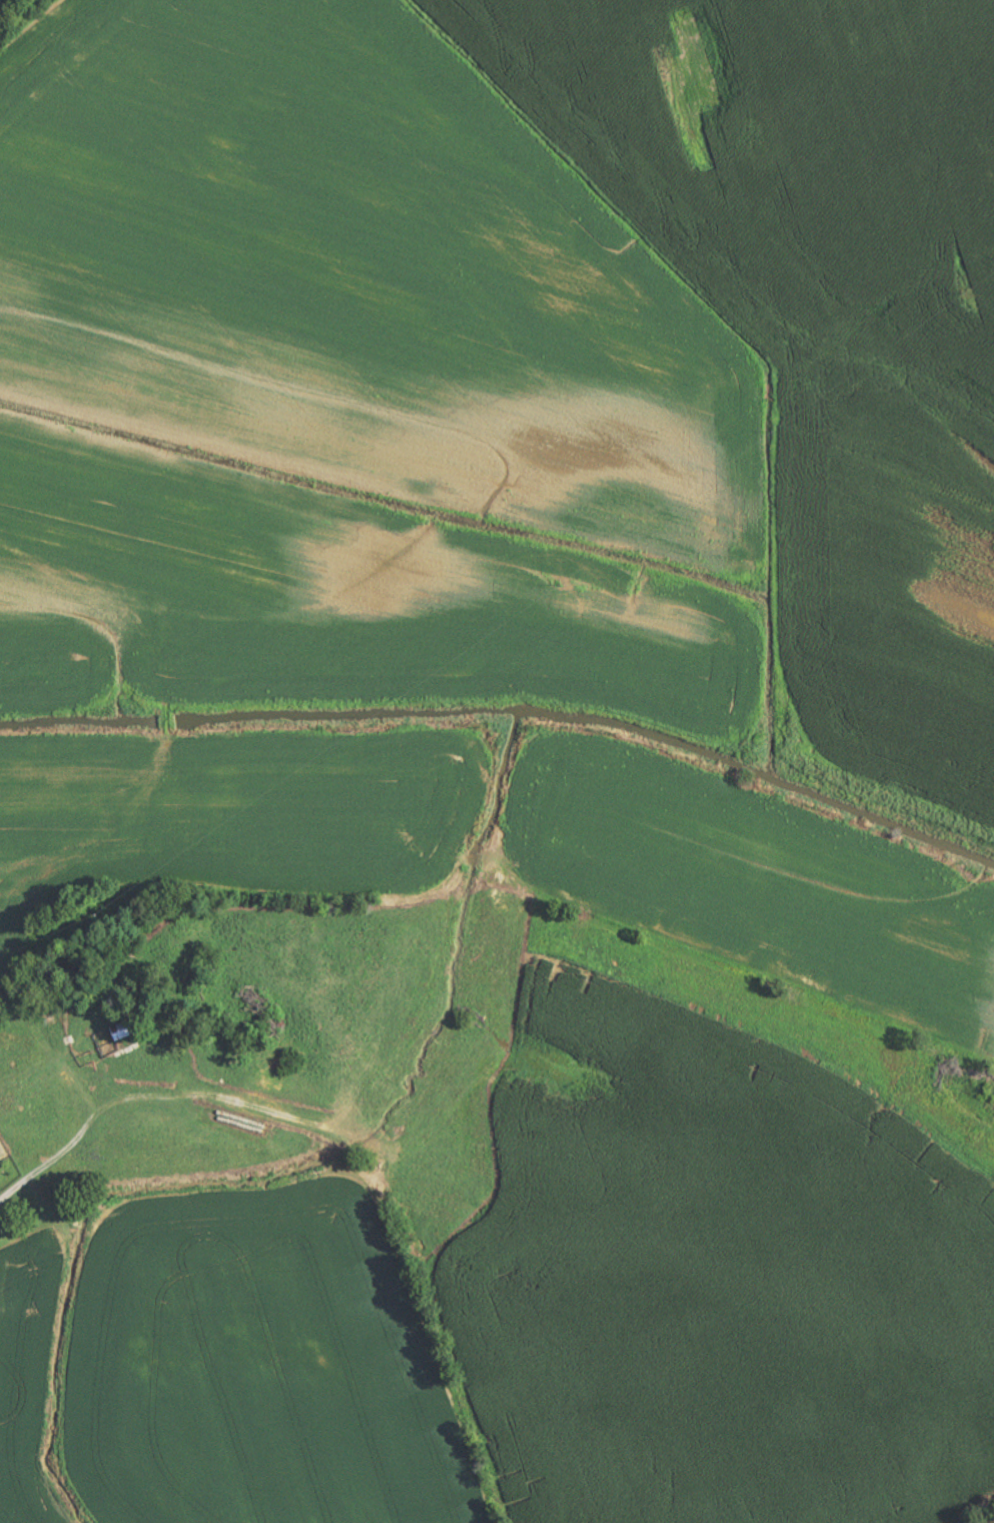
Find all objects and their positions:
building: (122, 1031)

